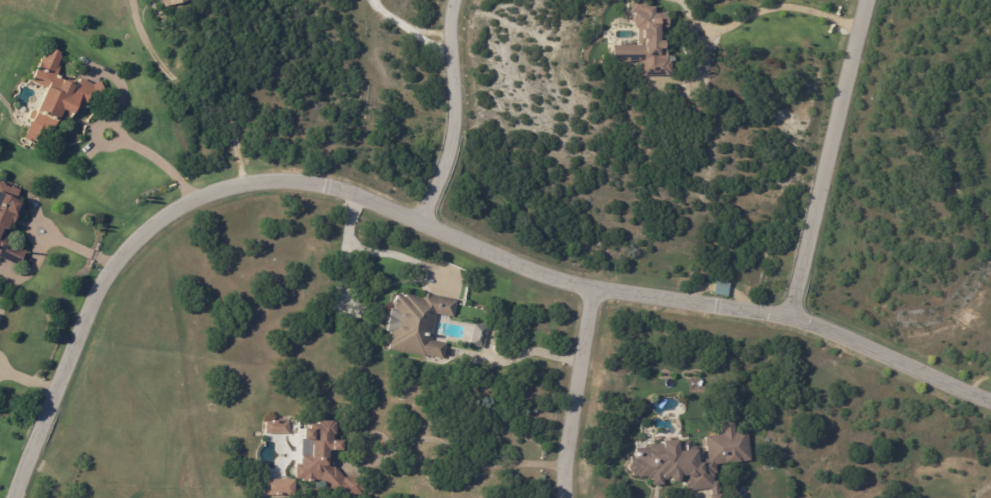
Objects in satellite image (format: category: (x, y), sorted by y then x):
building: (174, 3)
road: (736, 19)
building: (648, 43)
building: (57, 100)
road: (455, 117)
road: (823, 159)
road: (158, 161)
building: (8, 228)
road: (423, 232)
road: (72, 244)
road: (368, 245)
building: (719, 287)
building: (418, 327)
building: (479, 338)
road: (27, 381)
road: (580, 395)
building: (278, 430)
building: (326, 464)
road: (478, 466)
building: (671, 466)
building: (278, 487)

